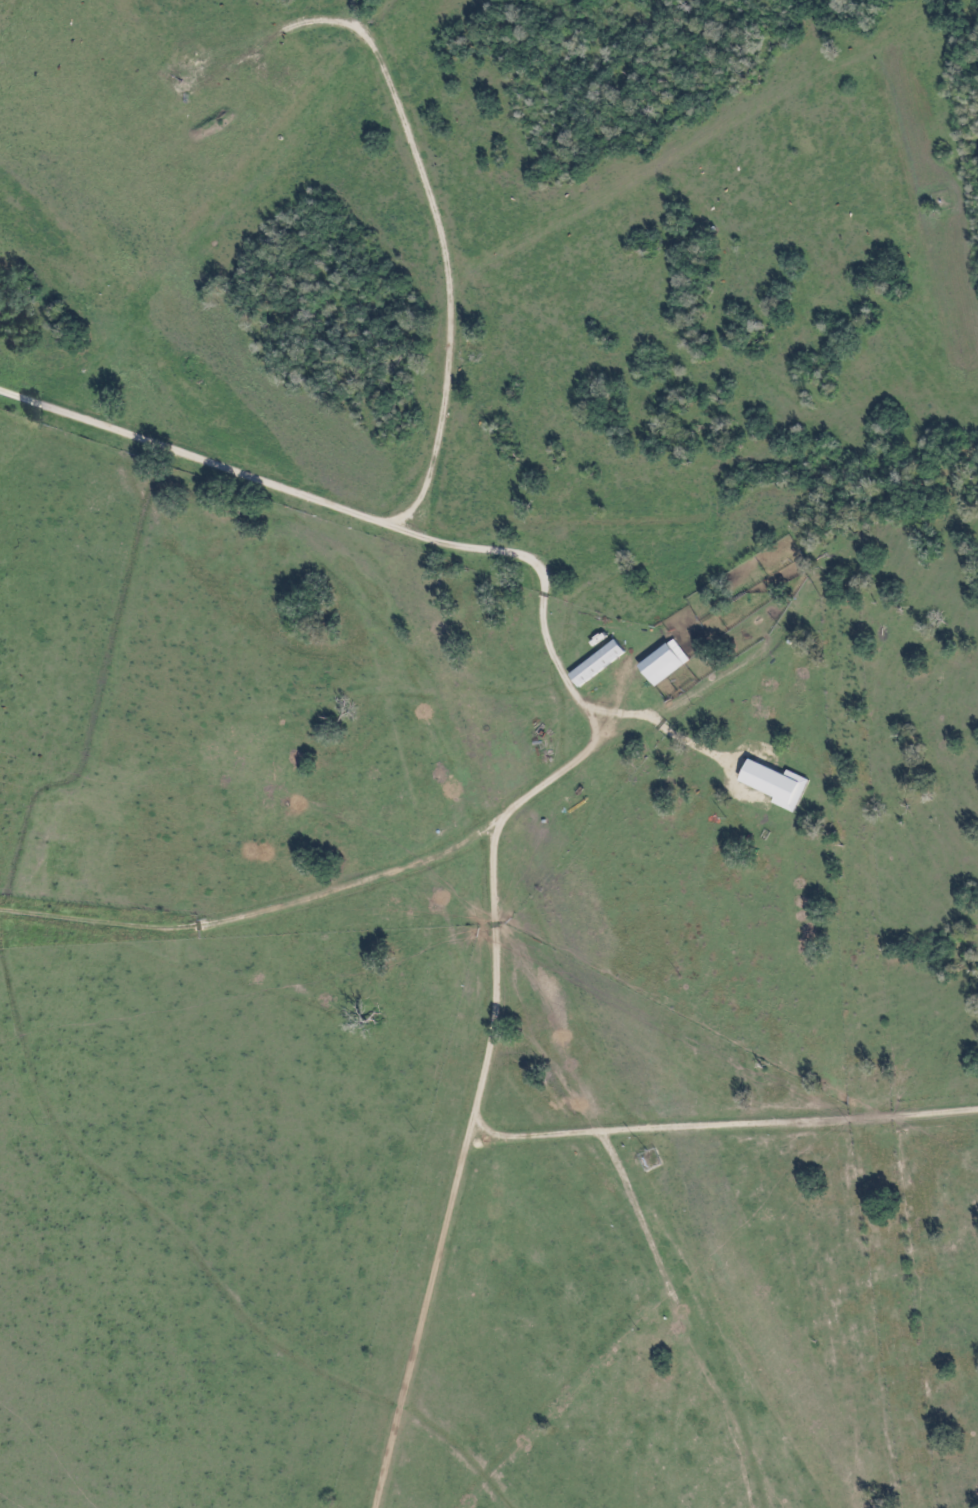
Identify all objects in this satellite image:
road: (366, 17)
road: (437, 218)
road: (205, 461)
road: (553, 646)
building: (597, 664)
building: (663, 664)
building: (775, 785)
road: (491, 975)
road: (430, 1323)

